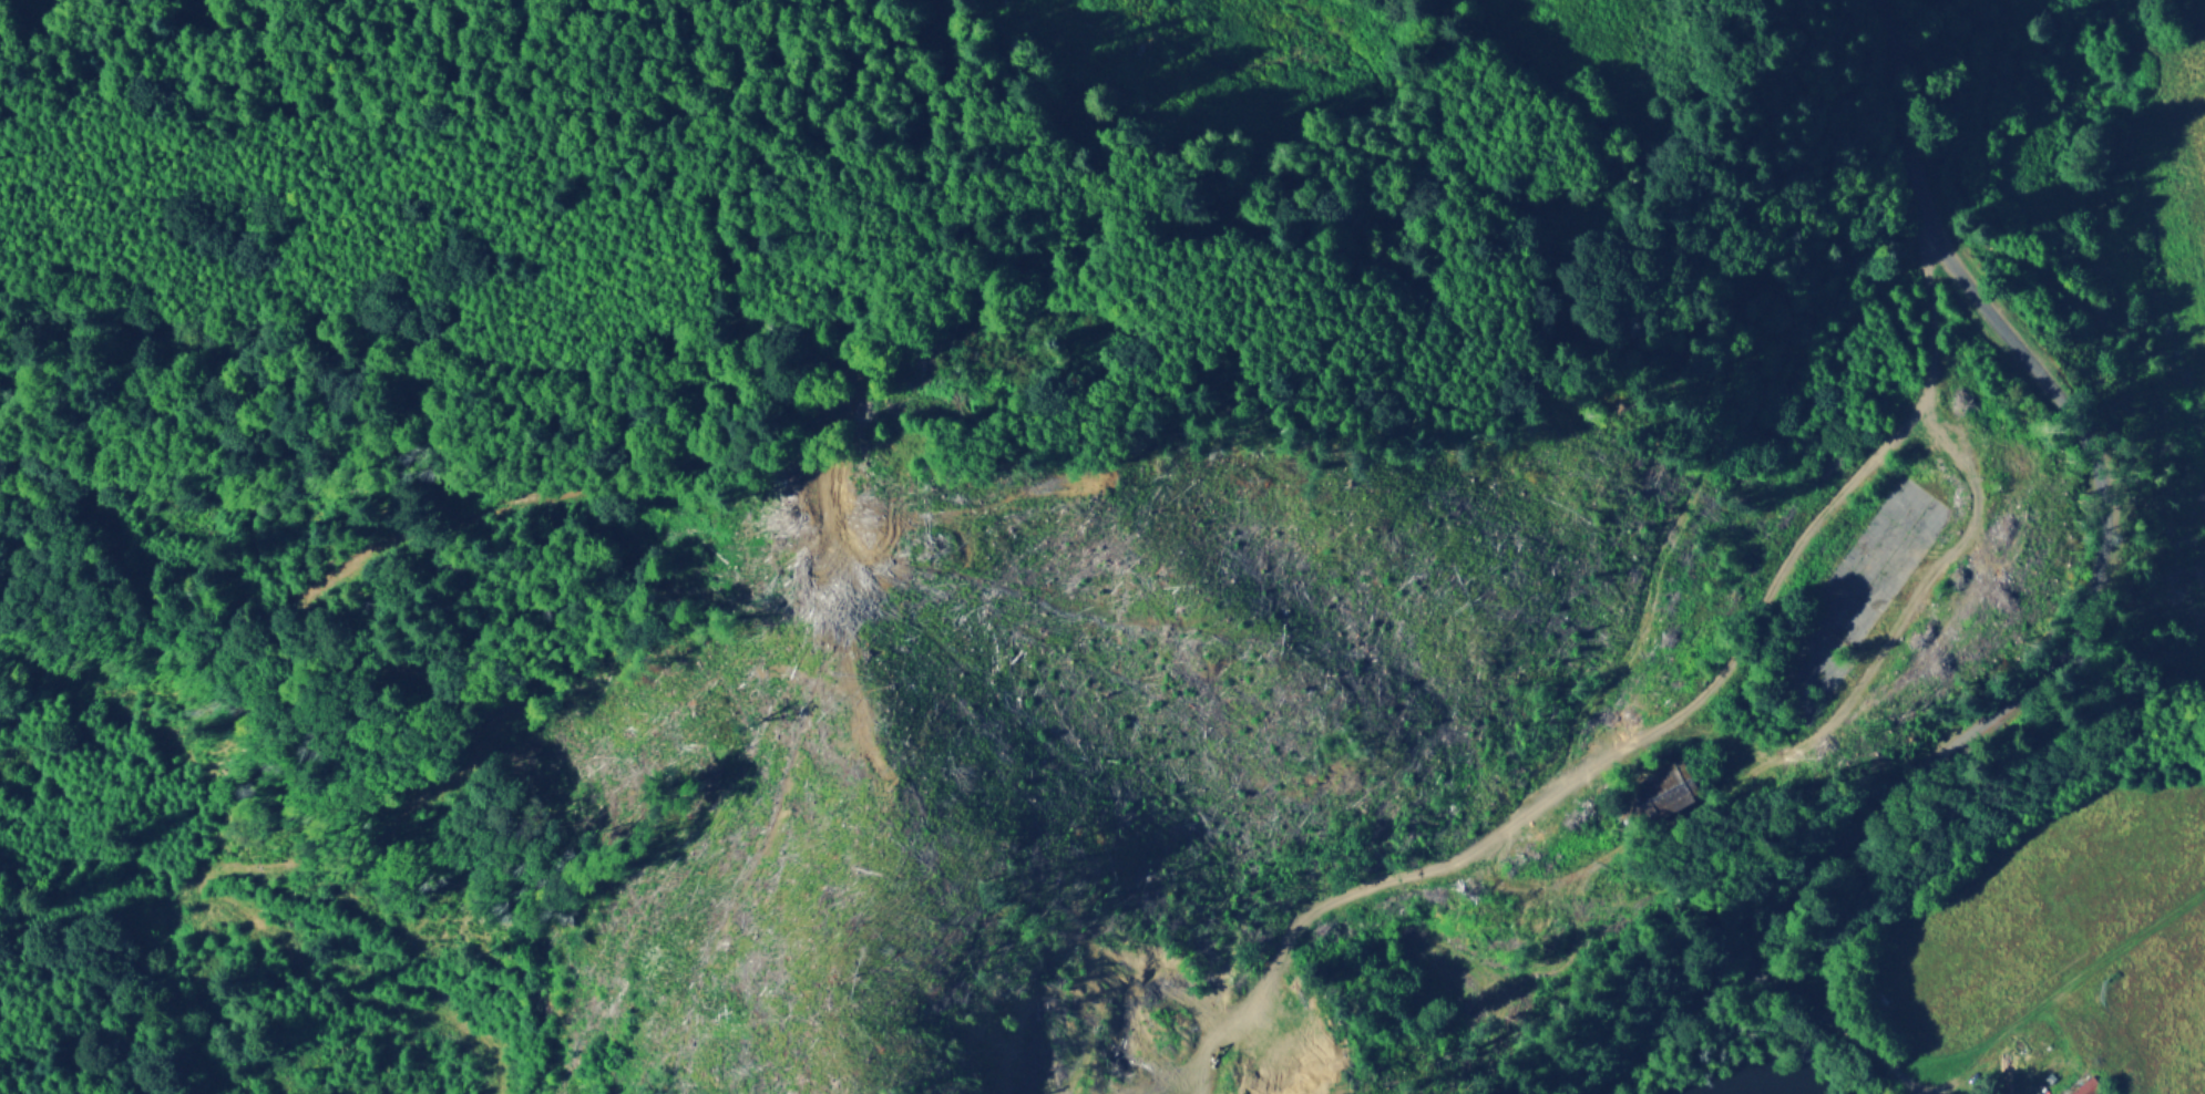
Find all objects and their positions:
road: (2079, 619)
road: (1655, 732)
road: (297, 865)
road: (481, 1039)

